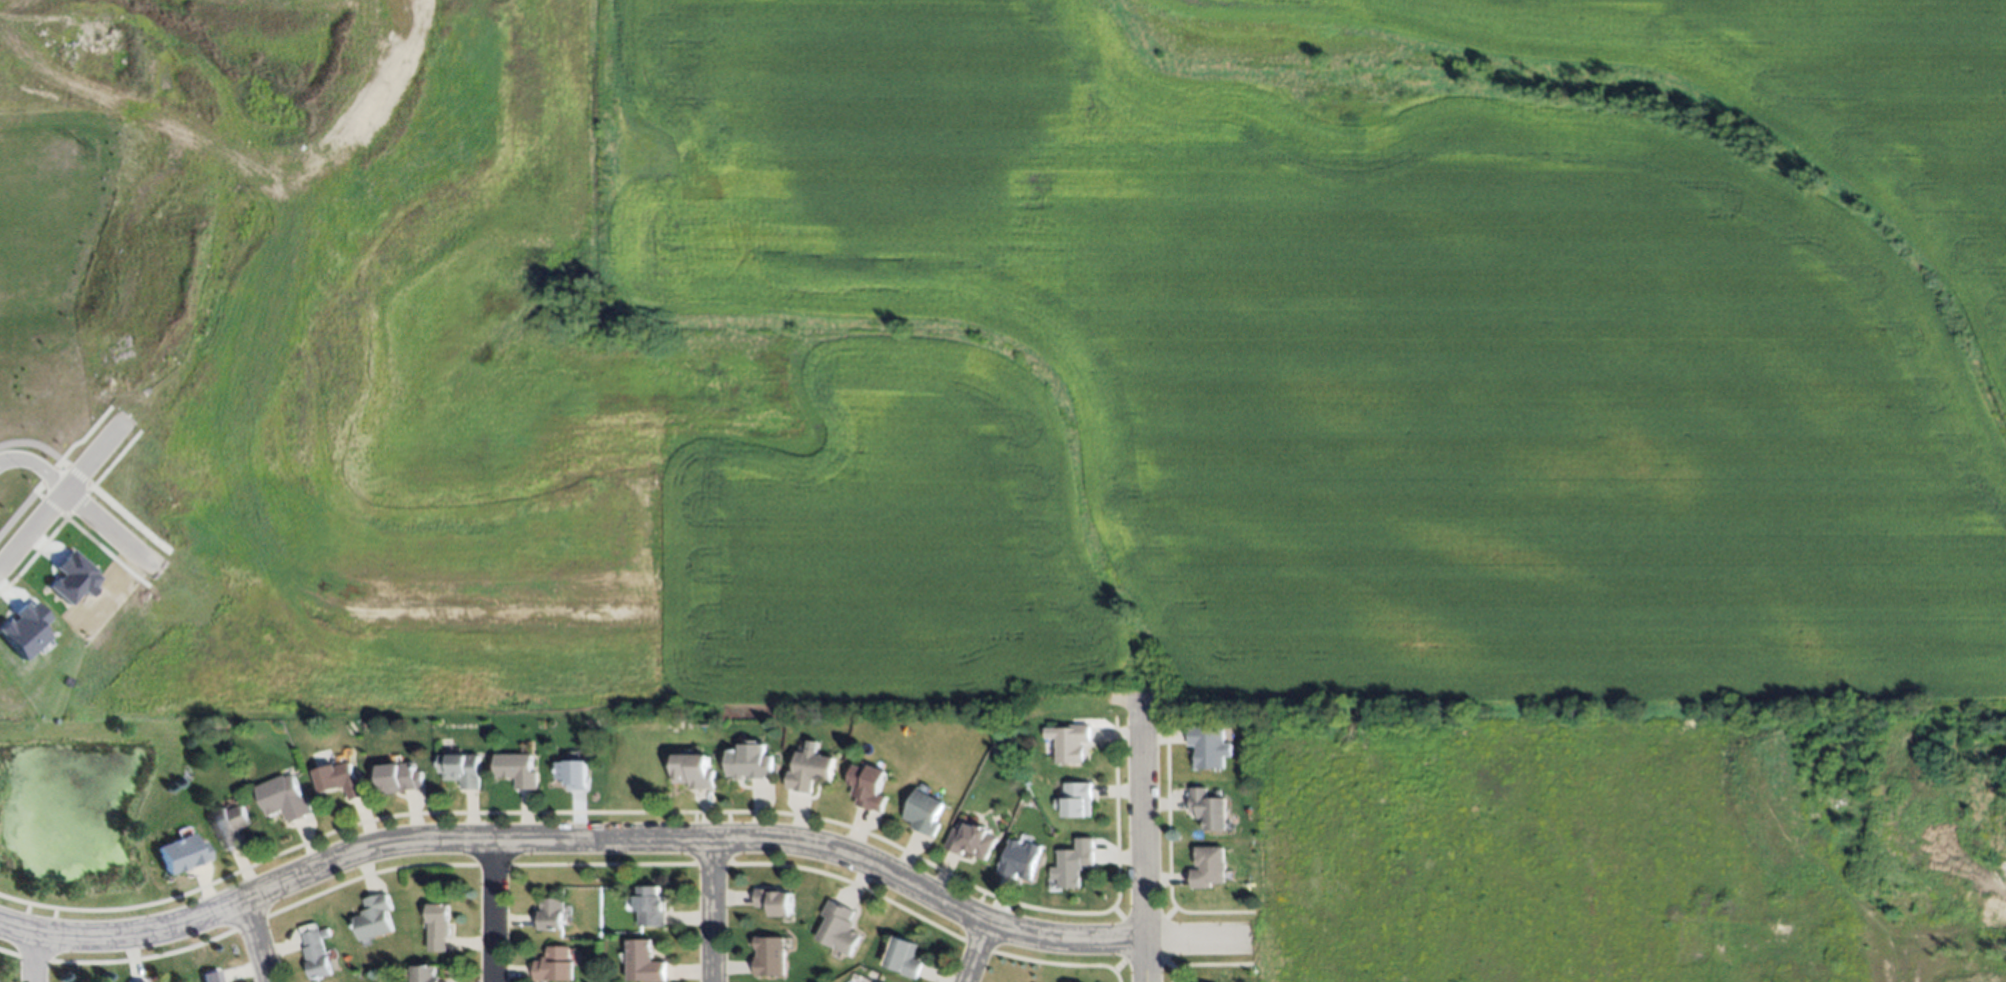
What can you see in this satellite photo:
road: (262, 195)
road: (37, 463)
road: (68, 491)
building: (75, 579)
road: (345, 604)
building: (26, 630)
building: (1070, 741)
building: (1210, 745)
building: (750, 759)
building: (460, 767)
building: (515, 768)
building: (693, 769)
building: (809, 769)
building: (573, 772)
building: (399, 777)
building: (340, 778)
building: (868, 785)
building: (284, 797)
building: (1076, 797)
building: (1207, 807)
building: (923, 811)
building: (230, 824)
building: (971, 838)
road: (1144, 838)
road: (622, 840)
building: (182, 853)
building: (1018, 857)
building: (1072, 864)
building: (1208, 866)
building: (773, 899)
building: (650, 903)
road: (488, 911)
road: (712, 911)
building: (548, 912)
building: (374, 916)
building: (837, 925)
building: (437, 926)
road: (257, 940)
road: (977, 951)
building: (315, 952)
building: (768, 954)
building: (903, 955)
road: (34, 957)
building: (644, 959)
building: (552, 963)
building: (425, 973)
building: (211, 975)
building: (140, 980)
building: (876, 981)

